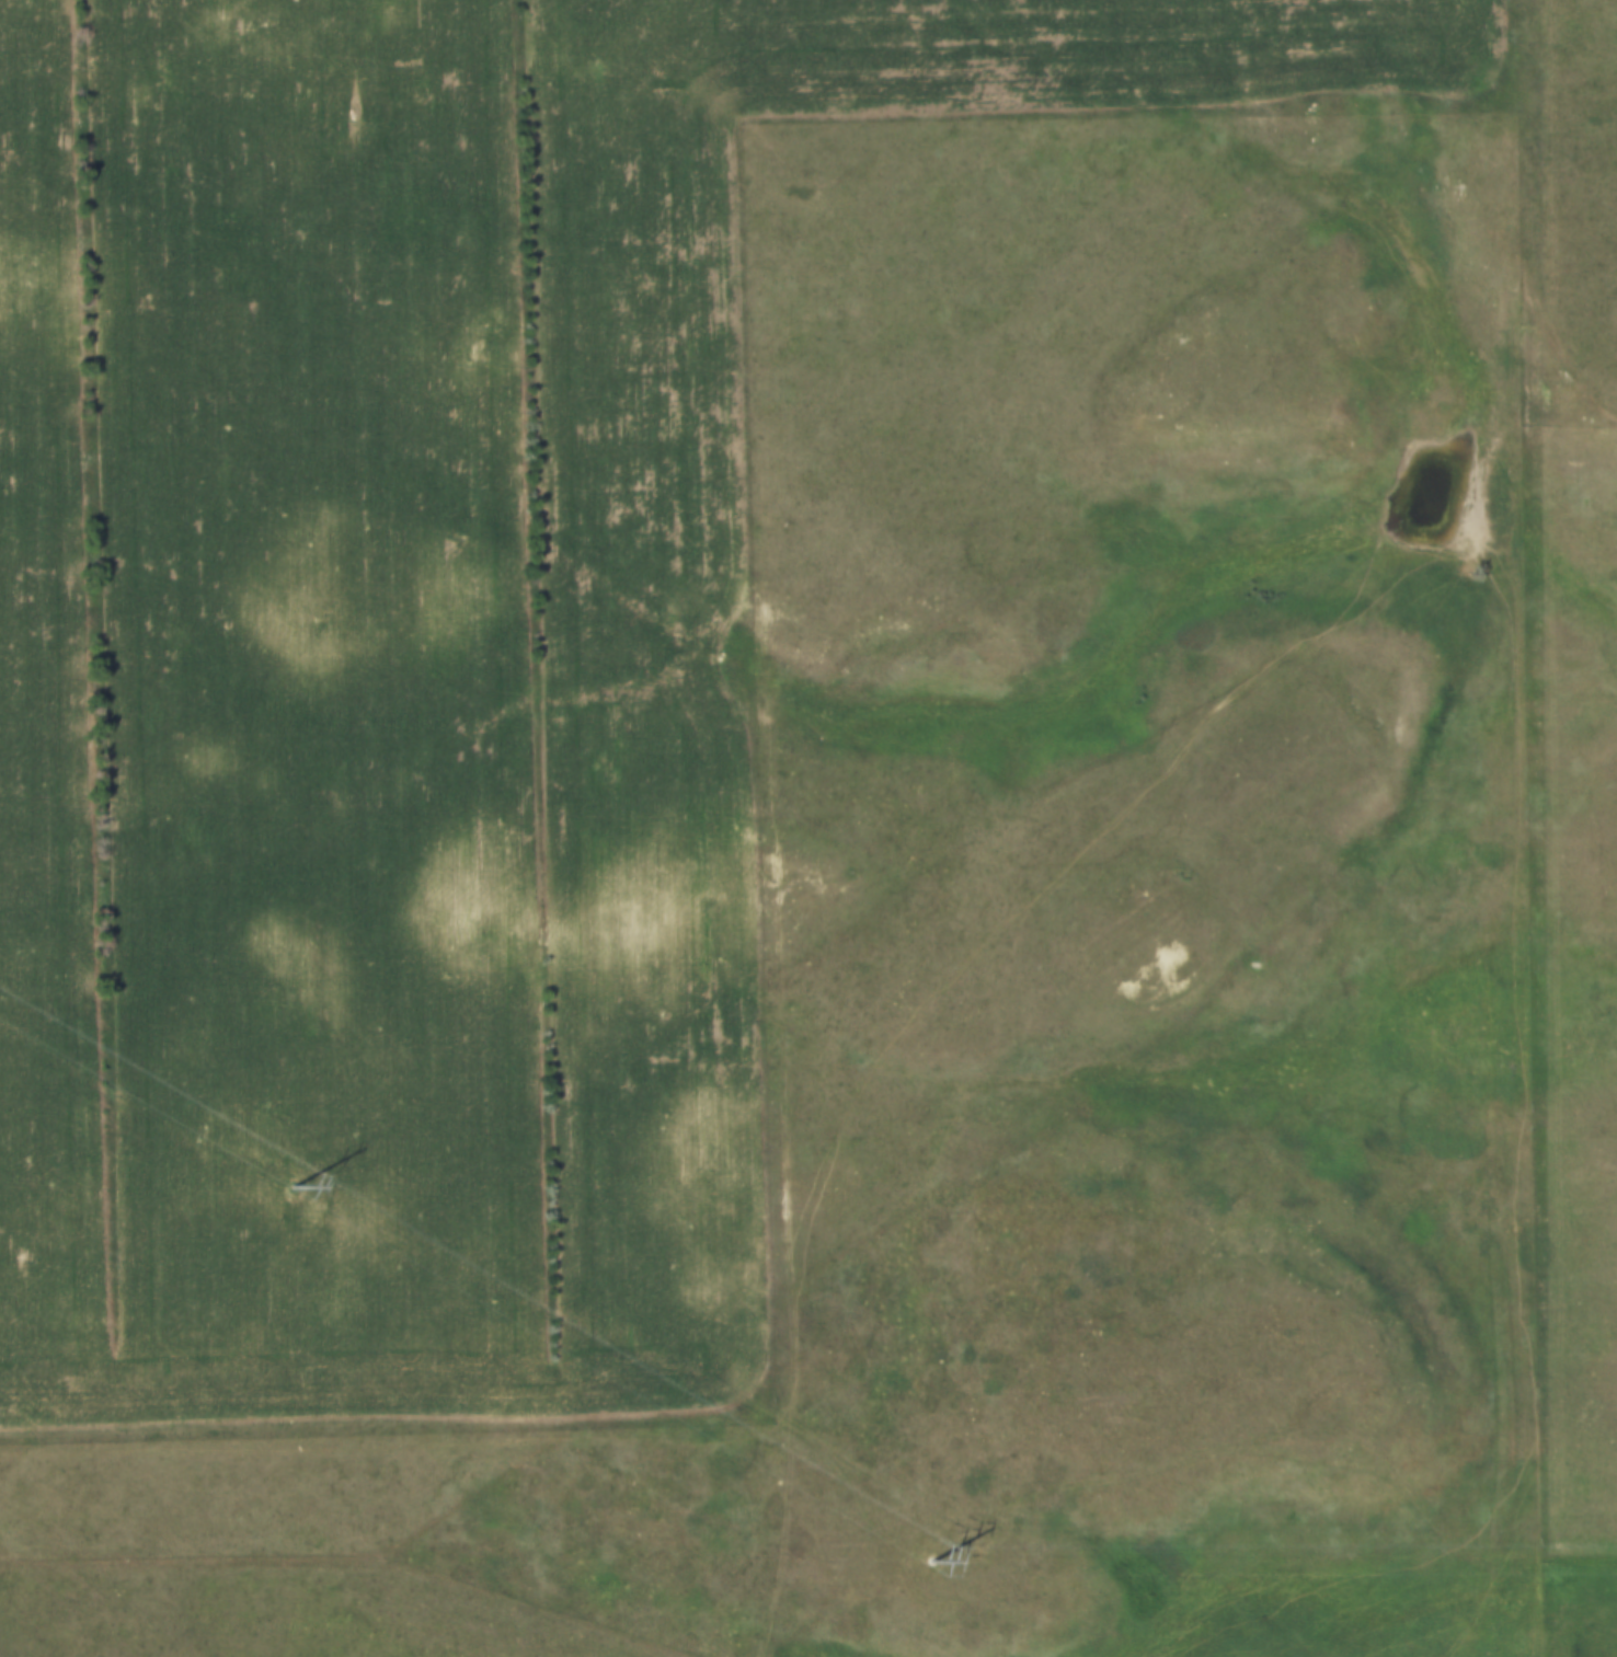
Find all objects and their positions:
power tower: (294, 1182)
road: (790, 1186)
power tower: (928, 1552)

